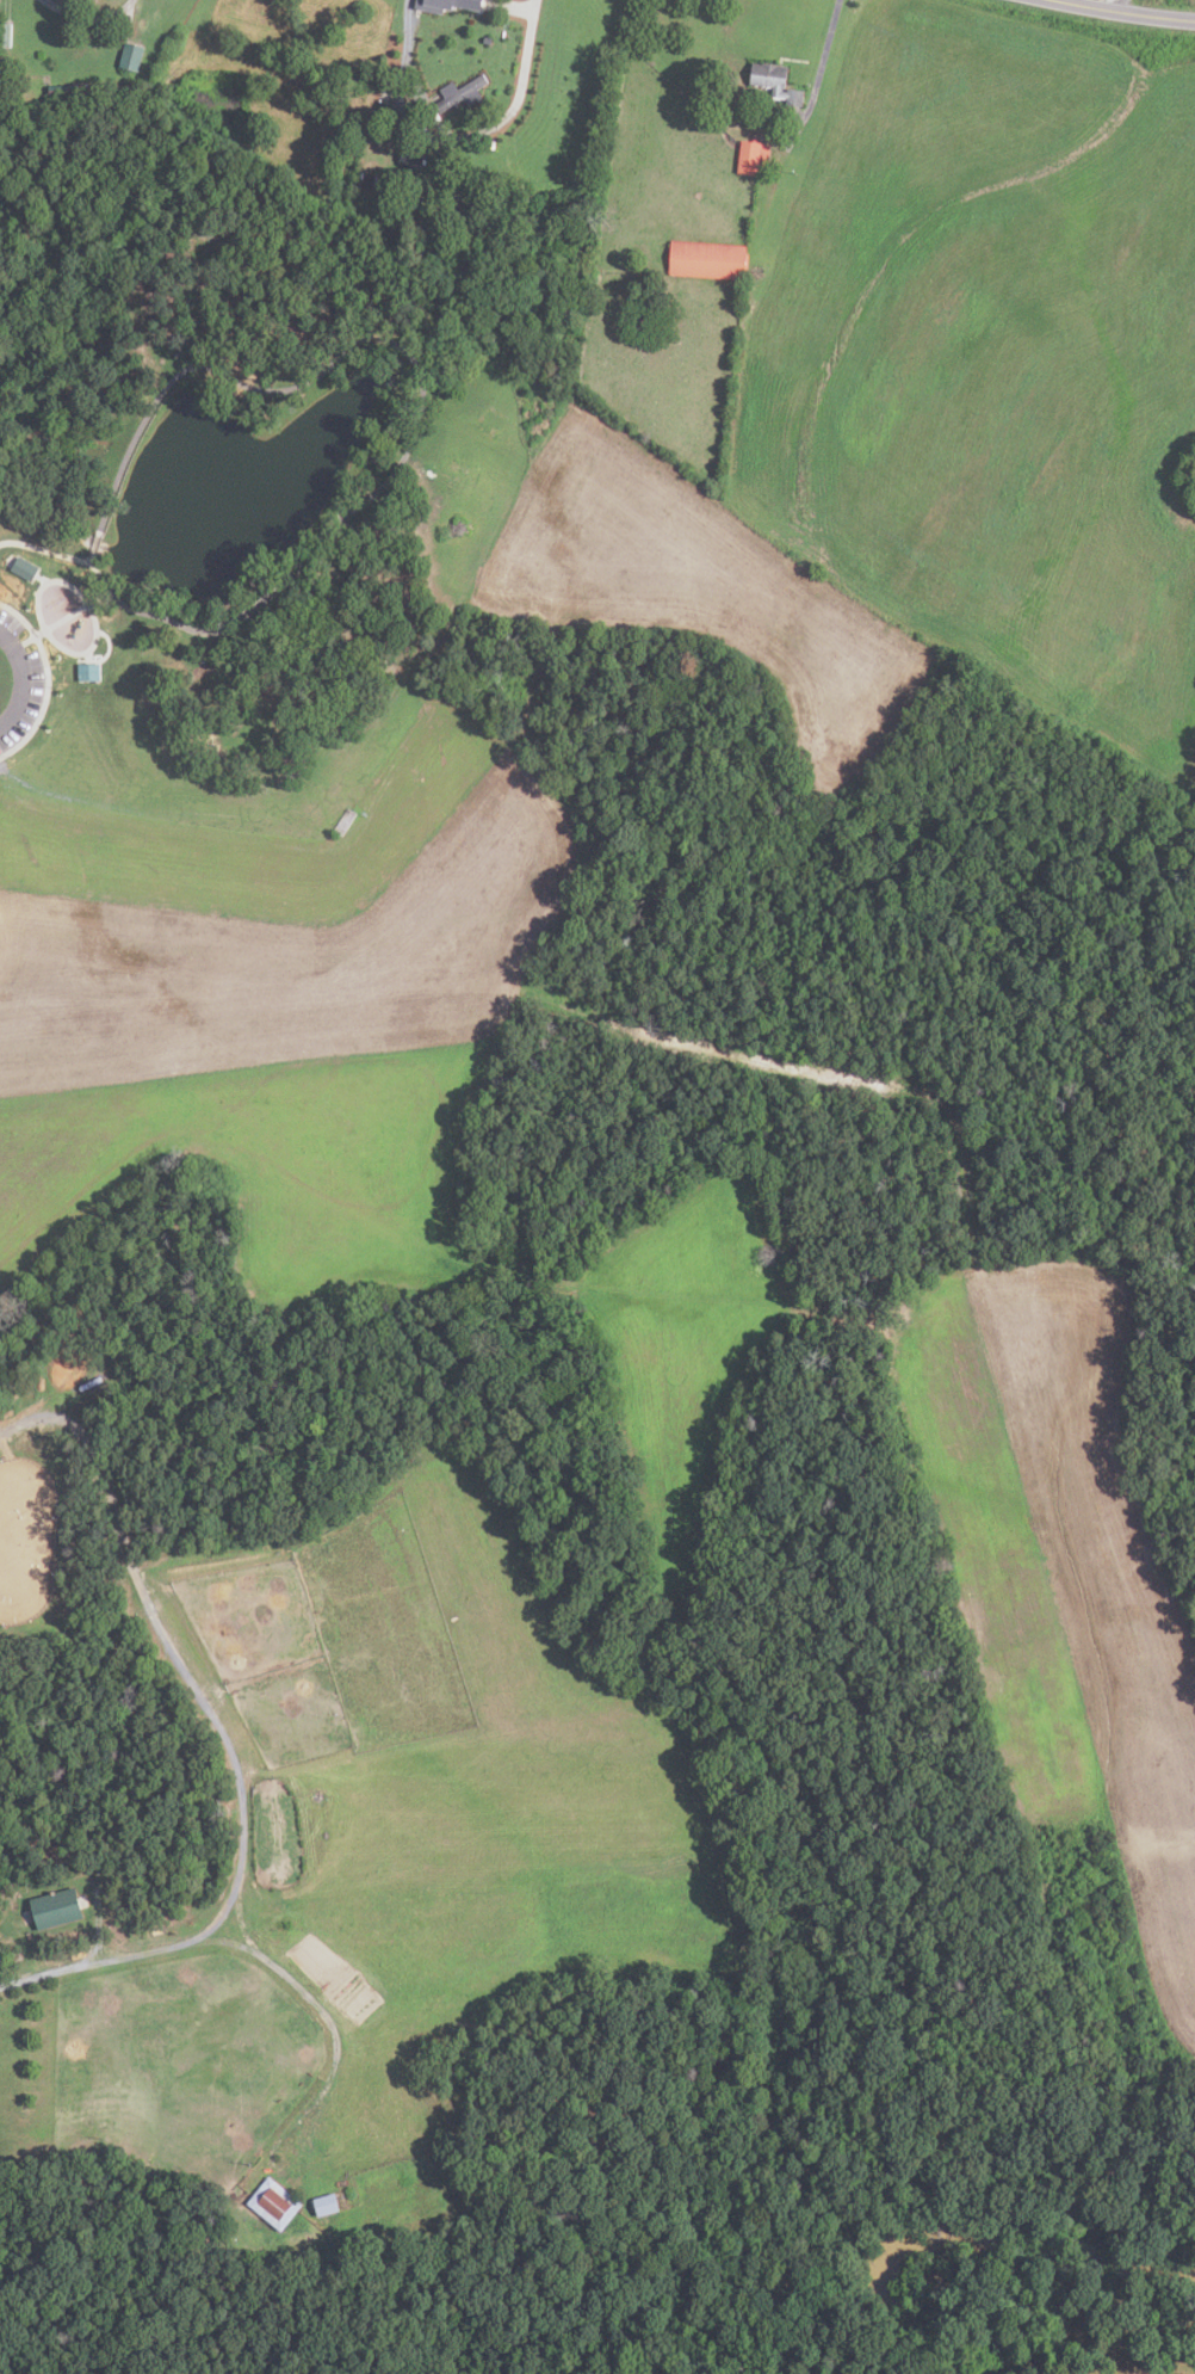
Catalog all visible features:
building: (446, 5)
road: (1113, 5)
road: (1125, 6)
road: (1132, 13)
road: (87, 17)
building: (5, 35)
building: (487, 41)
building: (131, 56)
road: (821, 70)
building: (775, 81)
building: (68, 90)
building: (459, 94)
road: (454, 137)
building: (753, 158)
building: (360, 175)
building: (376, 181)
building: (707, 260)
crop: (995, 358)
road: (420, 384)
park: (239, 508)
road: (93, 545)
road: (45, 551)
road: (91, 562)
building: (25, 571)
road: (58, 622)
road: (73, 655)
building: (89, 674)
parking lot: (21, 682)
road: (45, 682)
road: (18, 683)
crop: (358, 1079)
crop: (1061, 1573)
building: (57, 1909)
road: (249, 1948)
building: (274, 2203)
building: (326, 2205)

